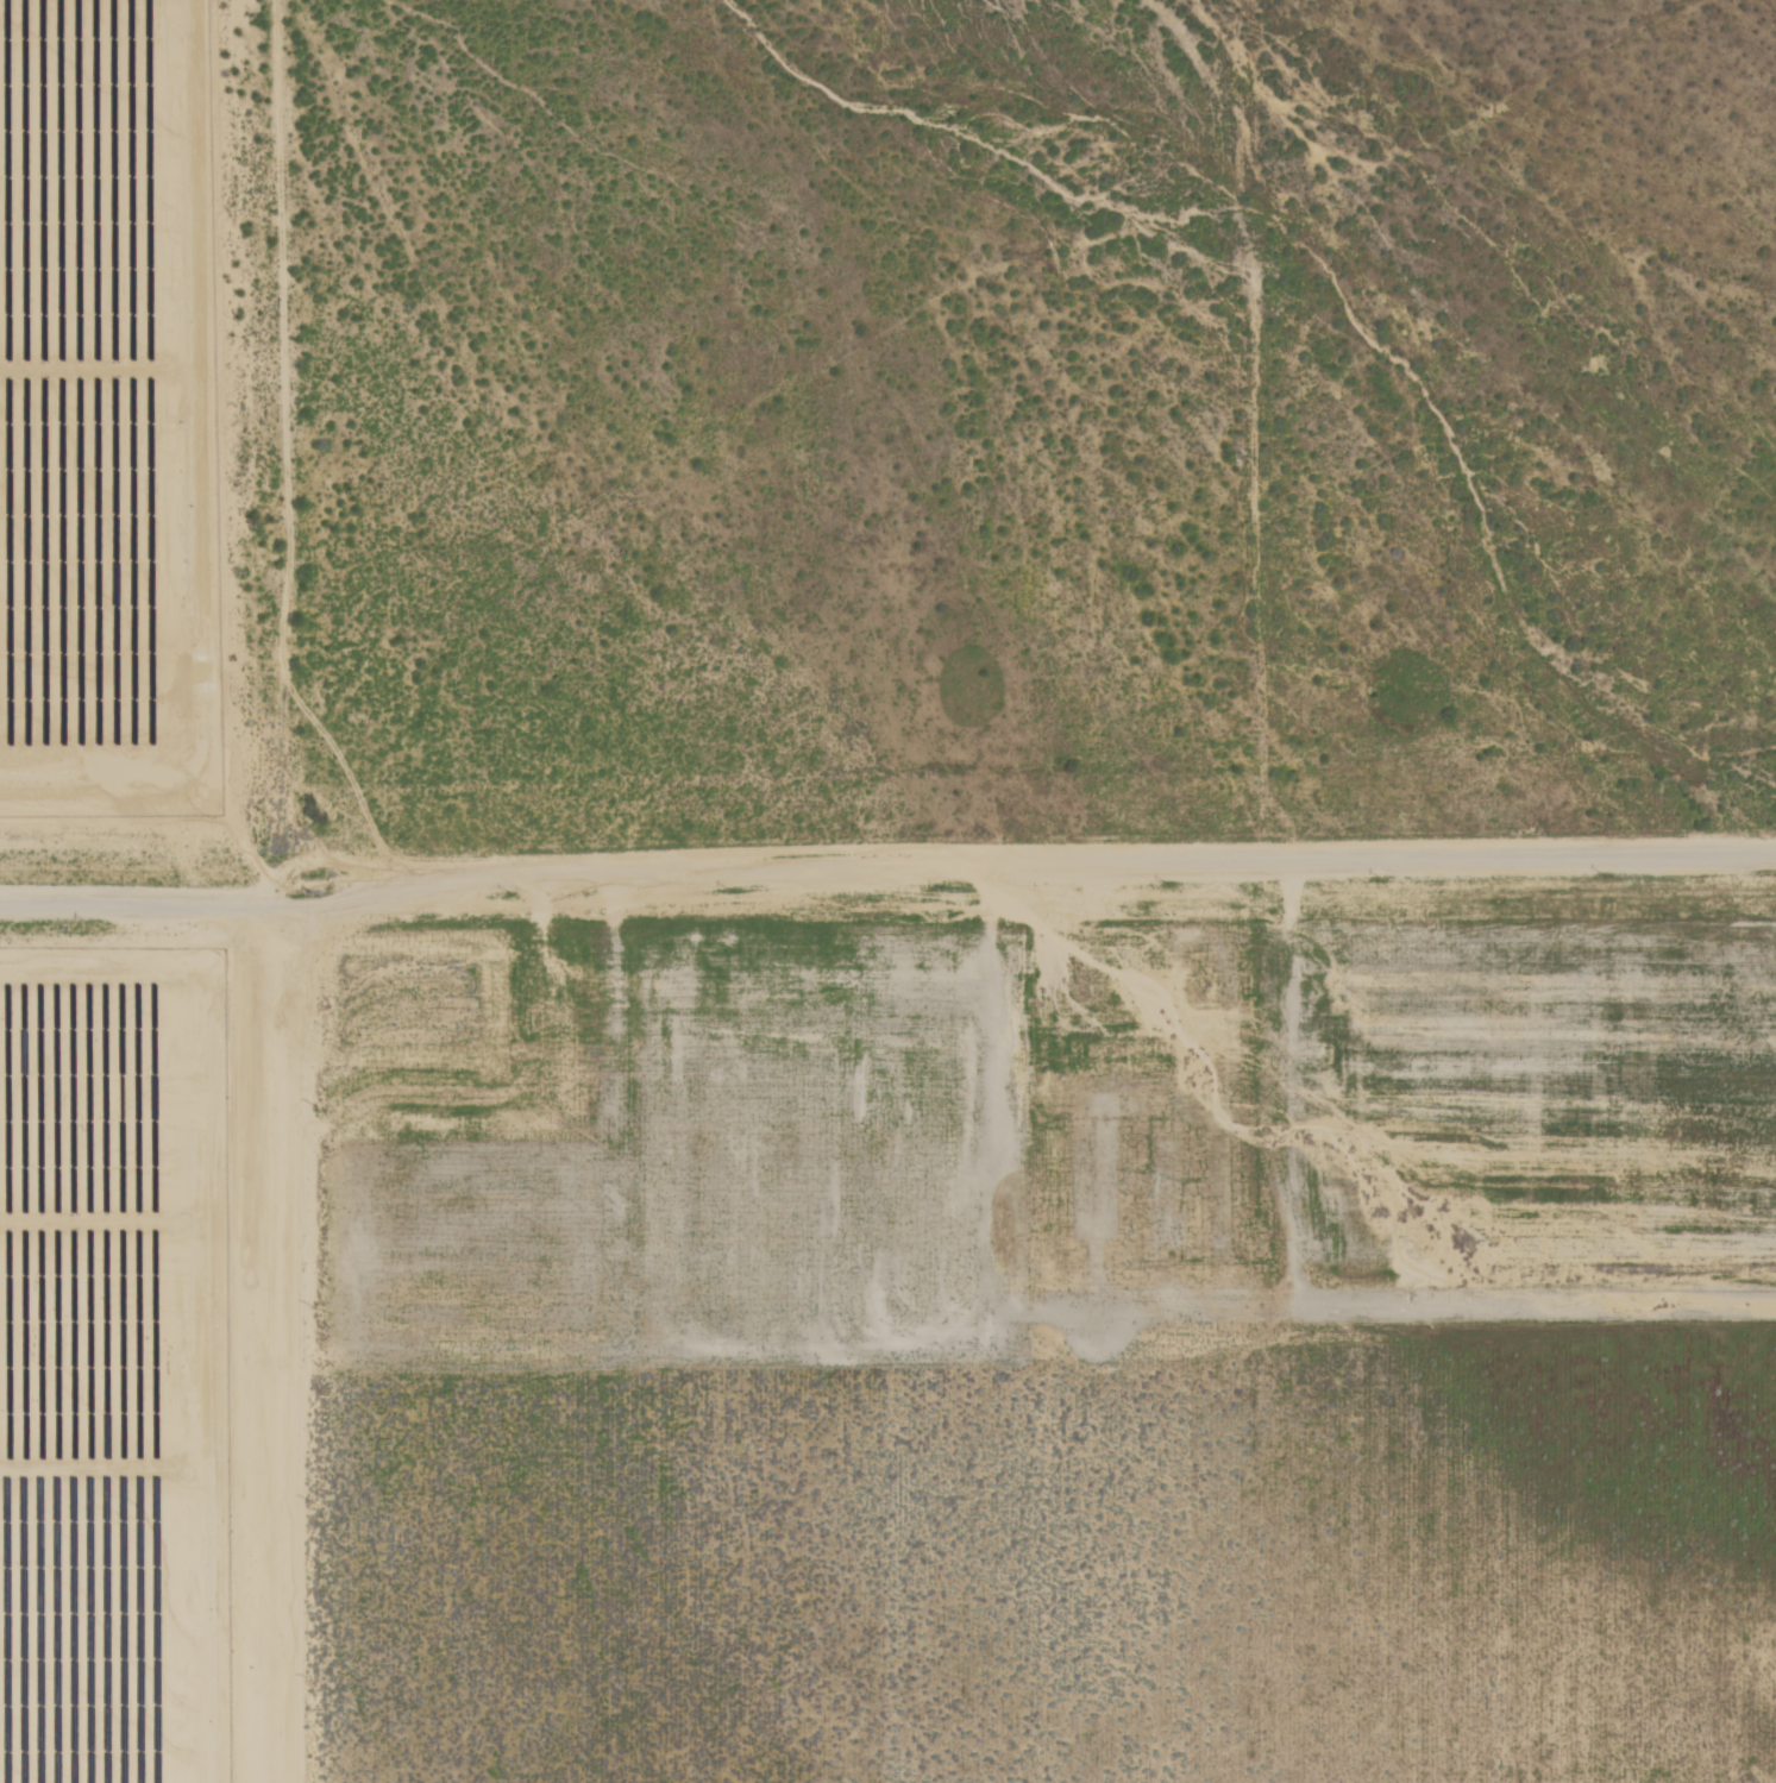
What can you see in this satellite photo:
solar farm: (109, 412)
road: (285, 422)
road: (1259, 437)
road: (1018, 874)
road: (132, 908)
road: (283, 1313)
solar farm: (117, 1362)

